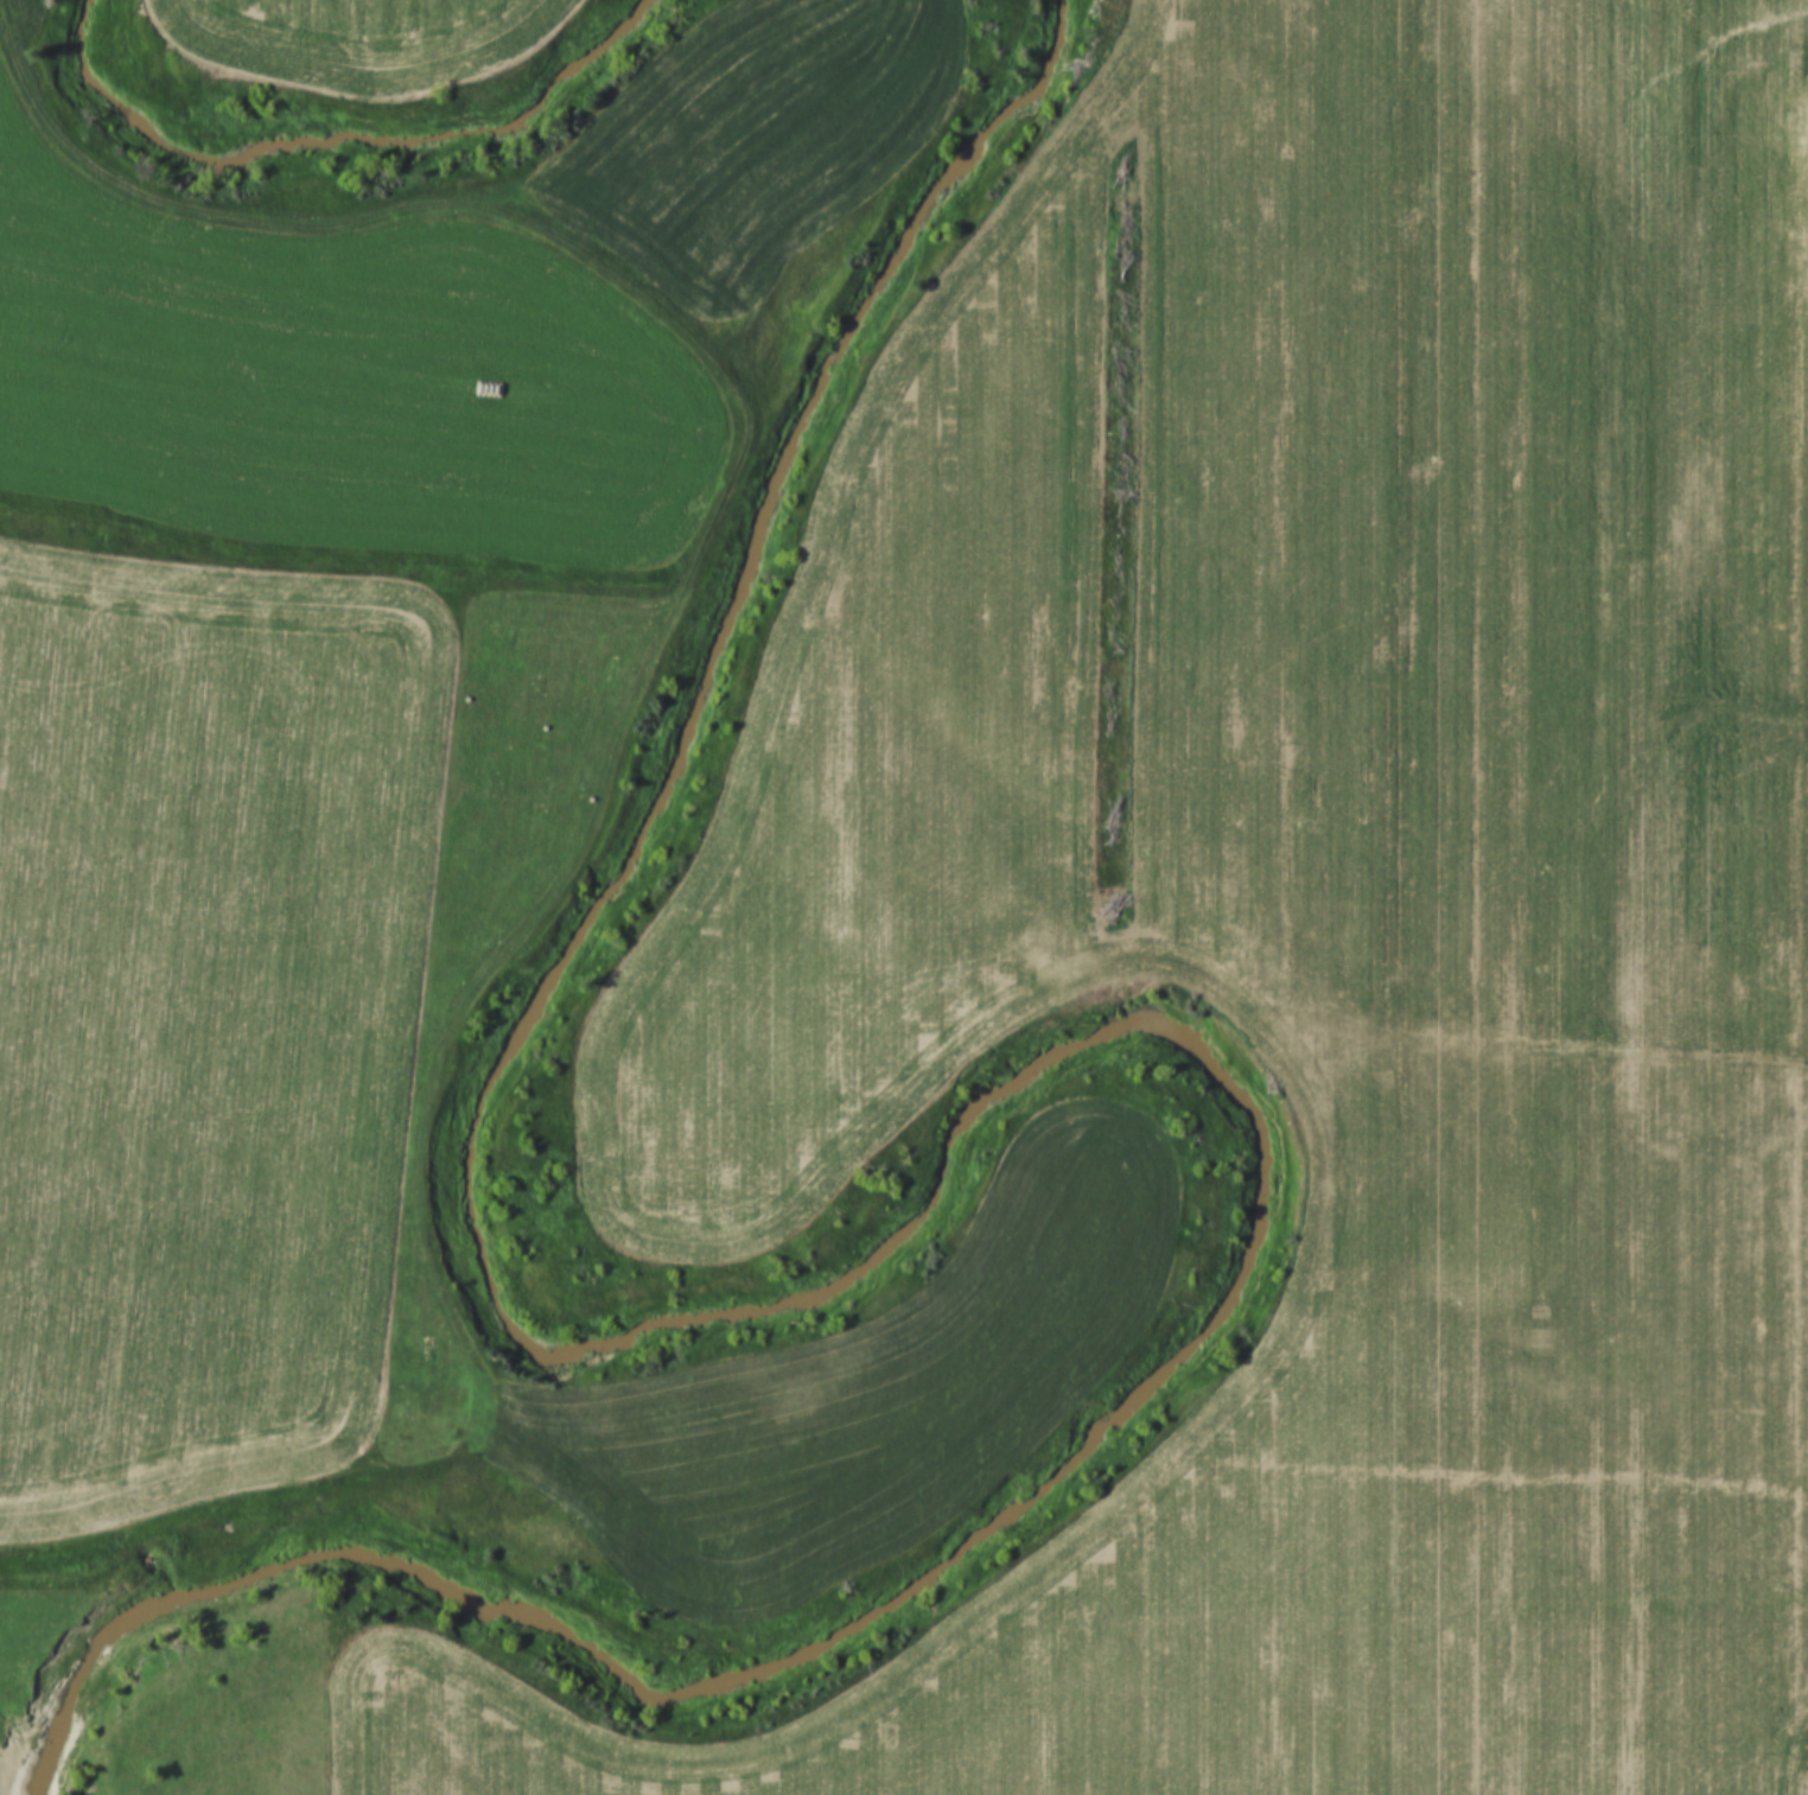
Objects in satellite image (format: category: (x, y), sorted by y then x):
river: (346, 116)
road: (141, 197)
river: (987, 1119)

